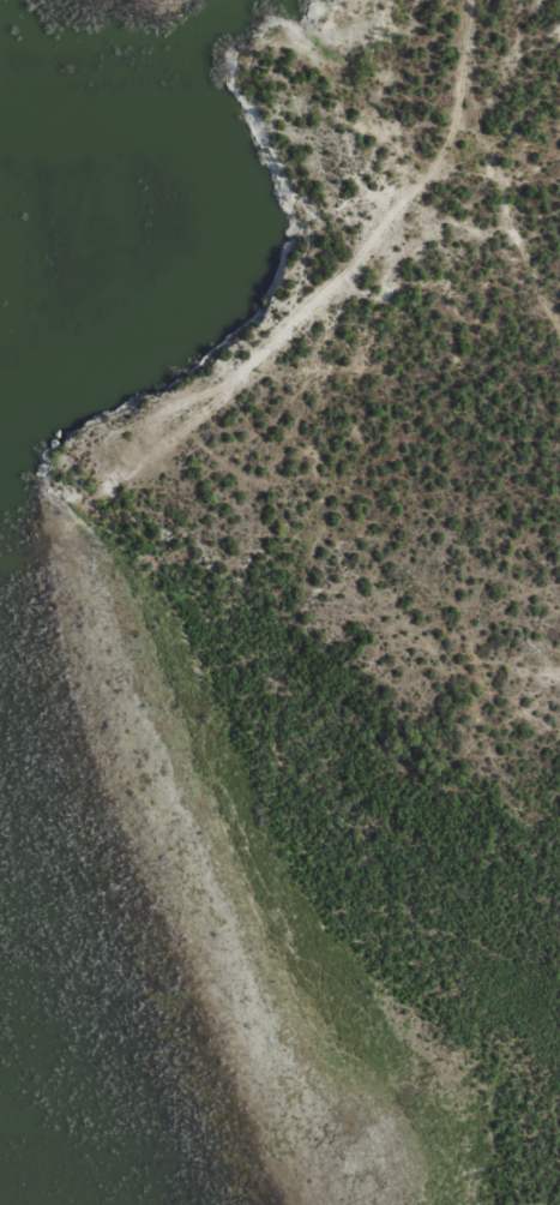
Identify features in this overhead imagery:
road: (489, 179)
river: (239, 239)

